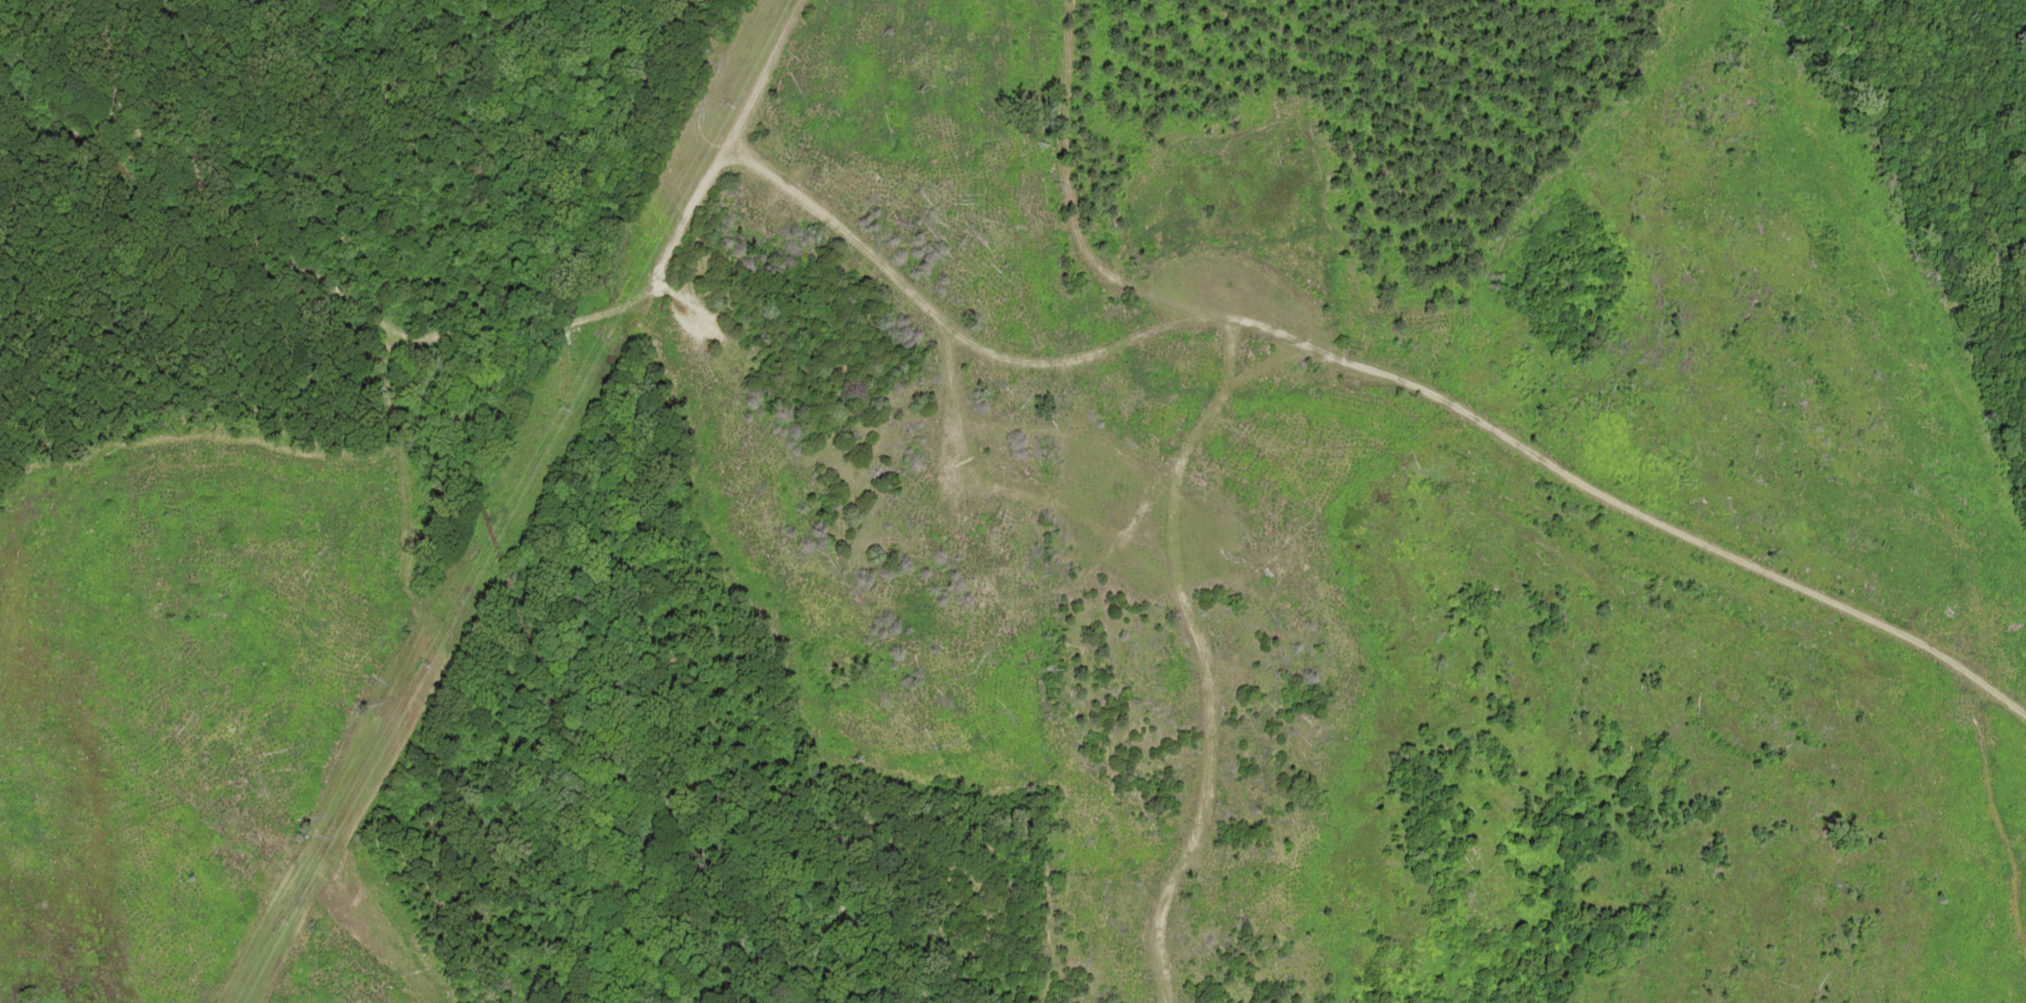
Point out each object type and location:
road: (84, 434)
road: (1600, 444)

